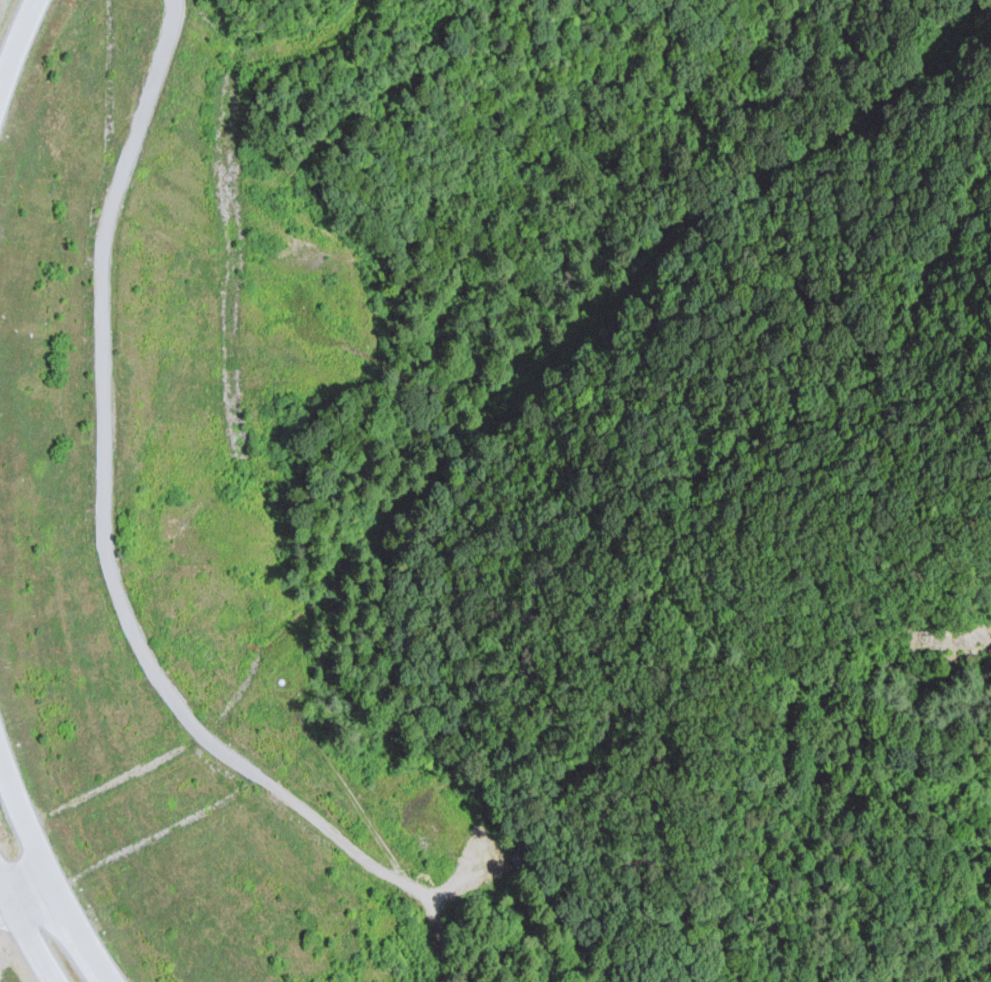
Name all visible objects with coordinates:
road: (20, 47)
road: (43, 875)
road: (23, 935)

